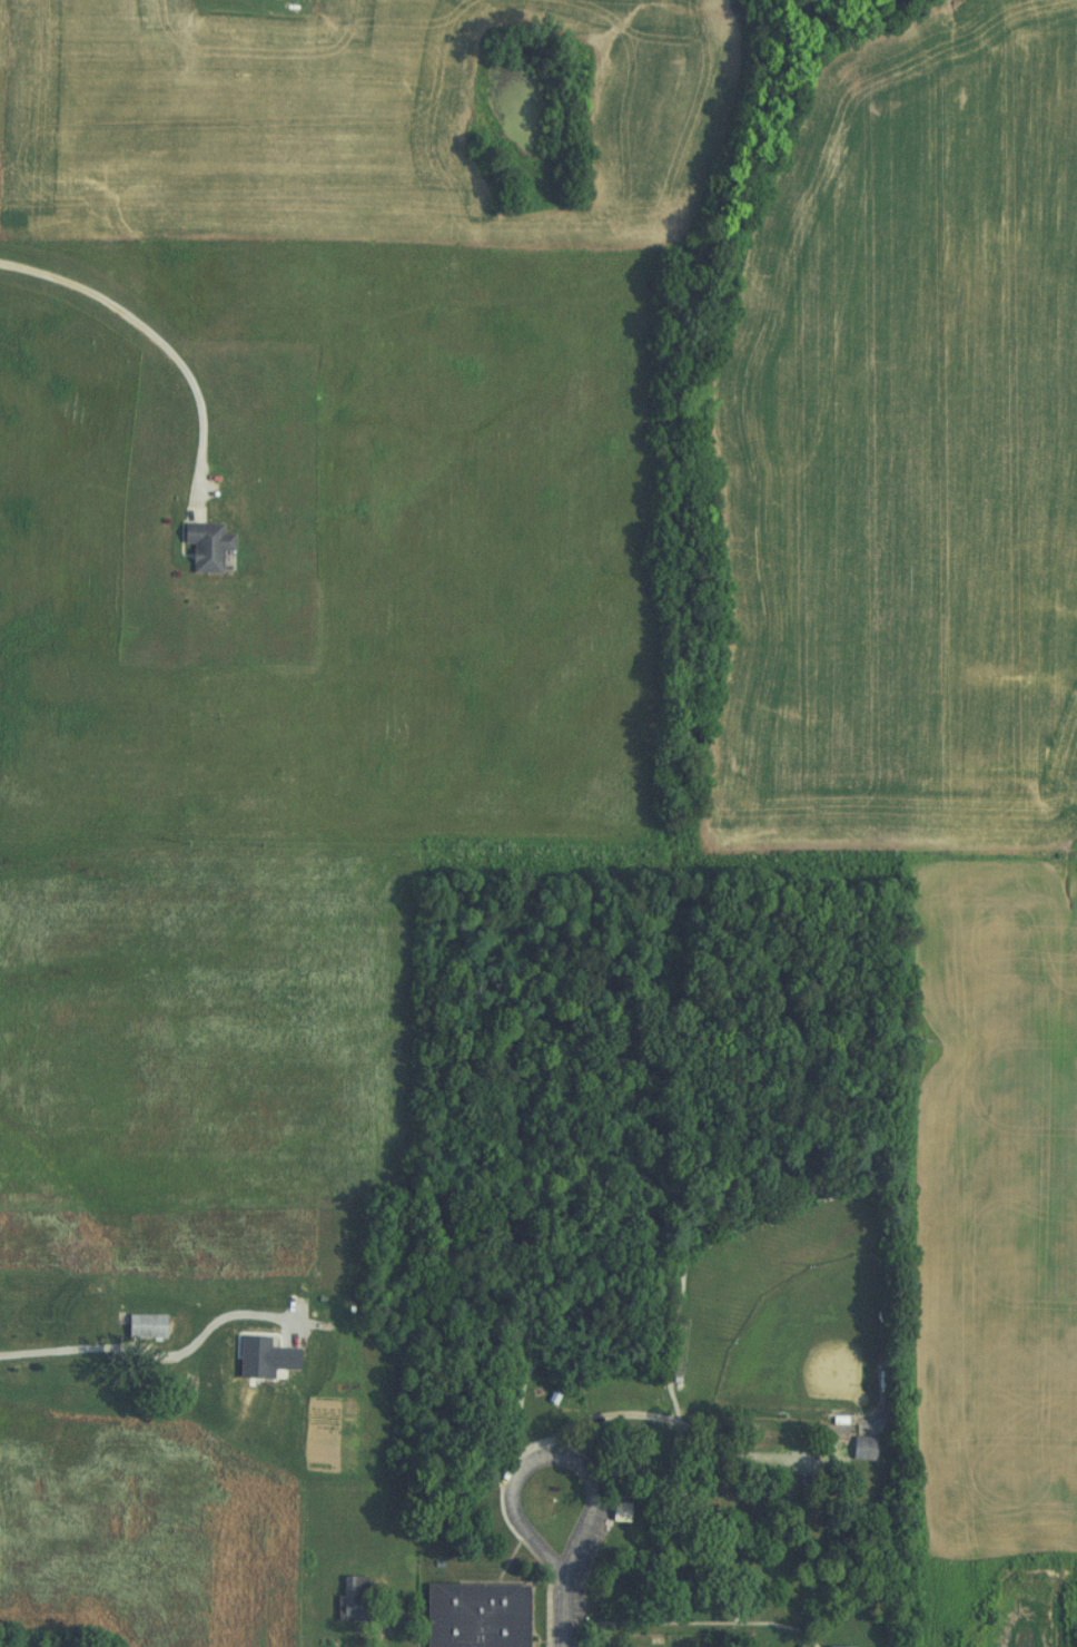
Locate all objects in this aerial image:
road: (156, 346)
building: (200, 546)
building: (138, 1326)
road: (155, 1355)
road: (586, 1428)
building: (854, 1449)
building: (613, 1512)
building: (346, 1598)
building: (470, 1615)

